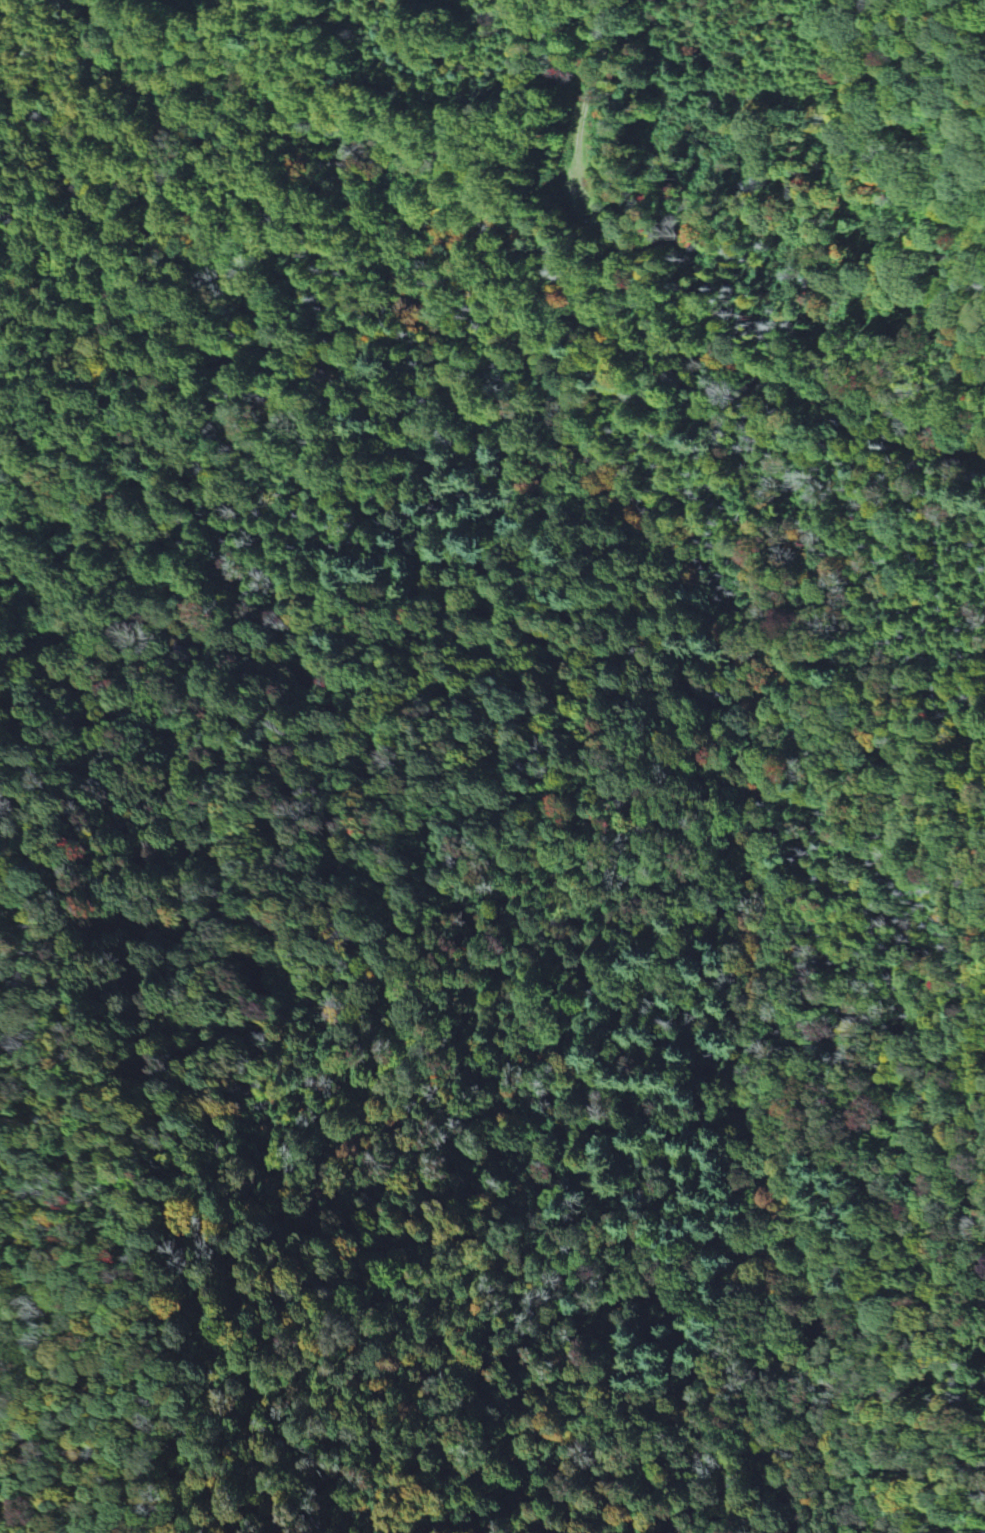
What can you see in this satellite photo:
road: (590, 84)

